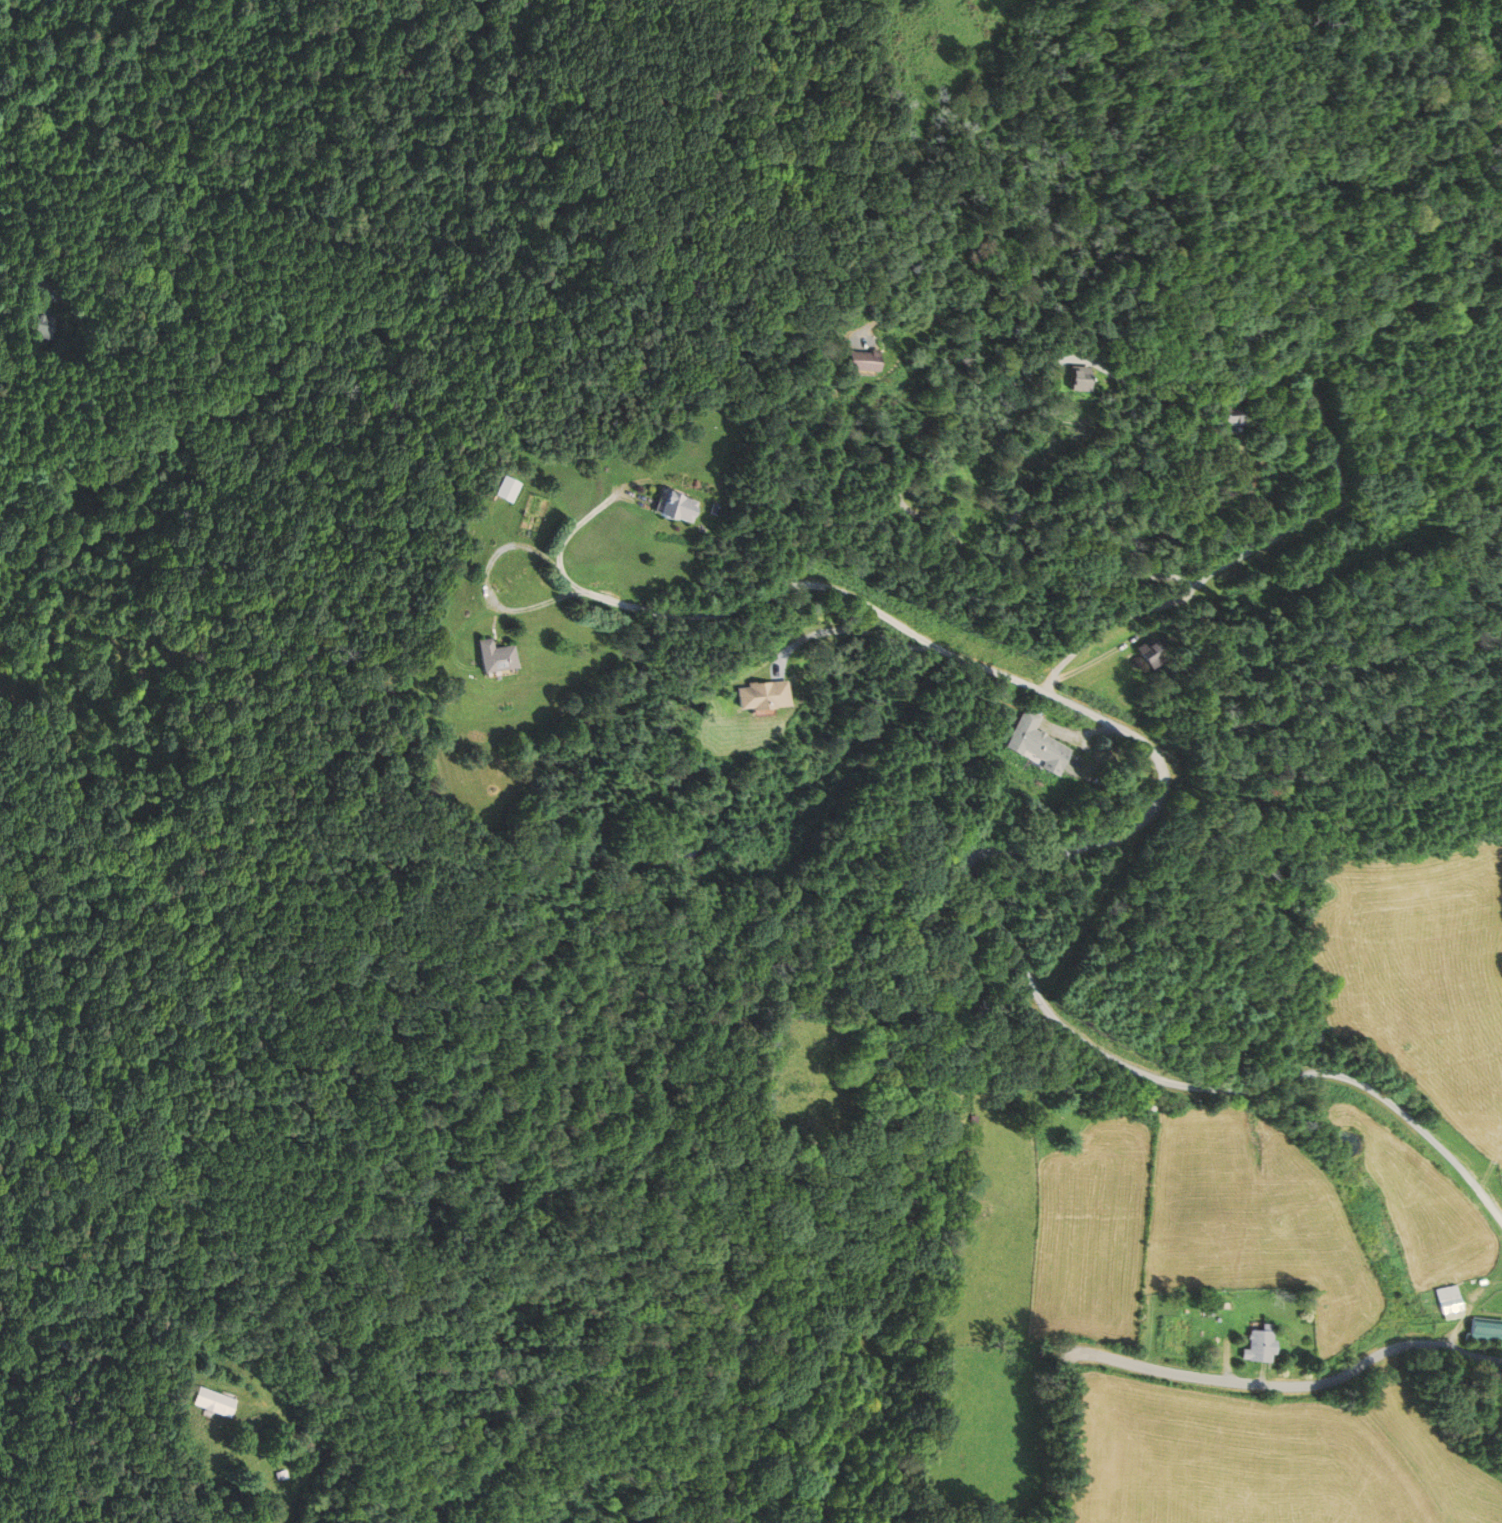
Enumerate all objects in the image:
building: (42, 325)
building: (866, 359)
building: (1075, 376)
building: (1085, 377)
building: (1234, 419)
building: (506, 489)
building: (675, 507)
road: (583, 519)
road: (1047, 567)
road: (487, 583)
building: (1150, 653)
building: (497, 656)
building: (767, 695)
building: (1037, 743)
road: (1053, 851)
building: (1142, 1103)
building: (1448, 1300)
building: (1486, 1333)
building: (1256, 1344)
road: (1228, 1356)
road: (1286, 1385)
building: (218, 1403)
road: (314, 1447)
road: (923, 1518)

